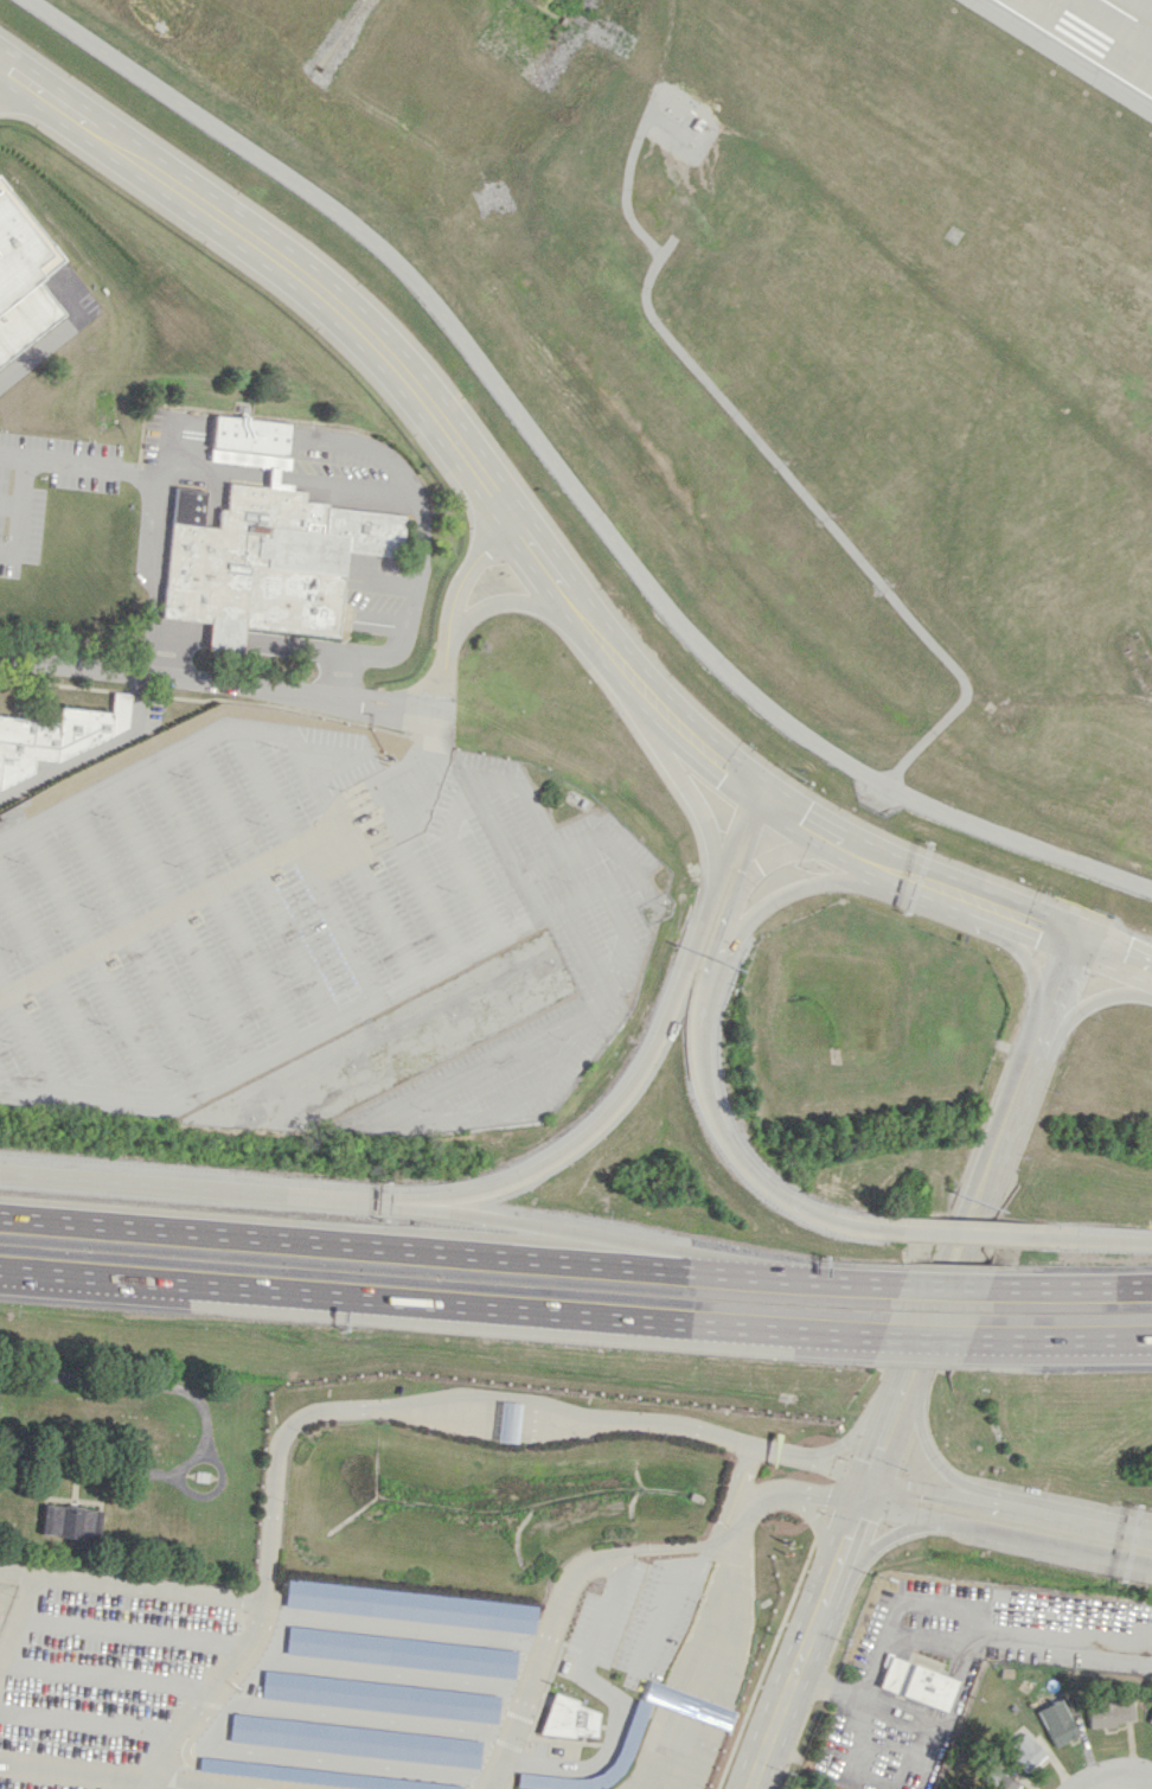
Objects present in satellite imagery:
airport runway: (1126, 15)
airport taxiway: (1135, 18)
road: (8, 81)
building: (23, 275)
road: (328, 293)
airport: (773, 344)
road: (743, 421)
building: (254, 434)
road: (569, 478)
road: (161, 491)
road: (412, 497)
road: (8, 506)
road: (17, 509)
building: (268, 561)
road: (510, 600)
road: (180, 630)
road: (224, 637)
road: (446, 639)
road: (293, 645)
road: (616, 657)
road: (185, 676)
road: (1150, 695)
road: (1058, 698)
building: (57, 735)
road: (431, 743)
road: (92, 749)
road: (706, 749)
road: (175, 756)
road: (372, 782)
road: (388, 782)
traffic signals: (761, 792)
road: (463, 794)
road: (378, 797)
road: (339, 798)
road: (692, 798)
road: (409, 805)
road: (334, 813)
road: (346, 813)
road: (393, 814)
road: (798, 817)
road: (360, 826)
road: (398, 828)
road: (753, 832)
road: (351, 845)
road: (578, 846)
road: (788, 849)
road: (370, 850)
road: (501, 850)
road: (353, 856)
road: (870, 856)
road: (302, 862)
road: (261, 883)
road: (804, 884)
road: (940, 886)
road: (428, 901)
road: (222, 902)
road: (731, 905)
road: (168, 909)
parking lot: (301, 918)
road: (1029, 920)
road: (181, 922)
road: (623, 939)
traffic signals: (1079, 940)
road: (137, 945)
road: (1115, 956)
road: (1026, 958)
road: (94, 965)
road: (1061, 985)
road: (56, 988)
road: (700, 995)
road: (1094, 999)
road: (325, 1021)
road: (28, 1035)
road: (634, 1075)
road: (2, 1081)
road: (422, 1097)
road: (760, 1184)
road: (183, 1189)
road: (539, 1226)
road: (961, 1233)
road: (1088, 1238)
road: (354, 1244)
road: (802, 1277)
road: (941, 1284)
road: (1068, 1285)
road: (437, 1303)
road: (921, 1337)
road: (1058, 1338)
road: (128, 1381)
road: (452, 1400)
road: (549, 1406)
road: (894, 1407)
road: (475, 1411)
road: (308, 1413)
road: (530, 1413)
road: (474, 1420)
building: (507, 1421)
road: (623, 1421)
road: (473, 1425)
road: (529, 1426)
road: (527, 1432)
road: (843, 1443)
road: (930, 1455)
road: (185, 1462)
road: (806, 1462)
road: (90, 1464)
park: (132, 1465)
traffic signals: (865, 1489)
road: (786, 1490)
road: (727, 1495)
road: (930, 1495)
road: (738, 1502)
building: (70, 1521)
road: (1074, 1523)
road: (818, 1527)
road: (1006, 1534)
road: (883, 1539)
road: (677, 1546)
road: (628, 1550)
road: (101, 1582)
road: (568, 1582)
road: (668, 1600)
building: (409, 1604)
road: (939, 1604)
road: (601, 1614)
parking lot: (659, 1617)
road: (722, 1619)
road: (404, 1628)
road: (133, 1631)
building: (402, 1650)
road: (232, 1666)
road: (691, 1666)
road: (697, 1667)
road: (709, 1672)
road: (384, 1673)
road: (715, 1674)
road: (721, 1676)
road: (108, 1678)
building: (916, 1682)
parking lot: (324, 1691)
building: (380, 1695)
building: (687, 1704)
road: (520, 1708)
building: (1107, 1713)
road: (359, 1717)
building: (567, 1718)
building: (1150, 1719)
road: (90, 1720)
building: (1056, 1723)
building: (633, 1727)
road: (659, 1732)
road: (667, 1734)
building: (354, 1739)
road: (683, 1739)
road: (673, 1743)
road: (690, 1744)
road: (697, 1746)
building: (1025, 1752)
road: (607, 1756)
road: (334, 1758)
road: (162, 1759)
road: (927, 1761)
building: (316, 1775)
road: (102, 1778)
building: (998, 1781)
road: (1106, 1782)

